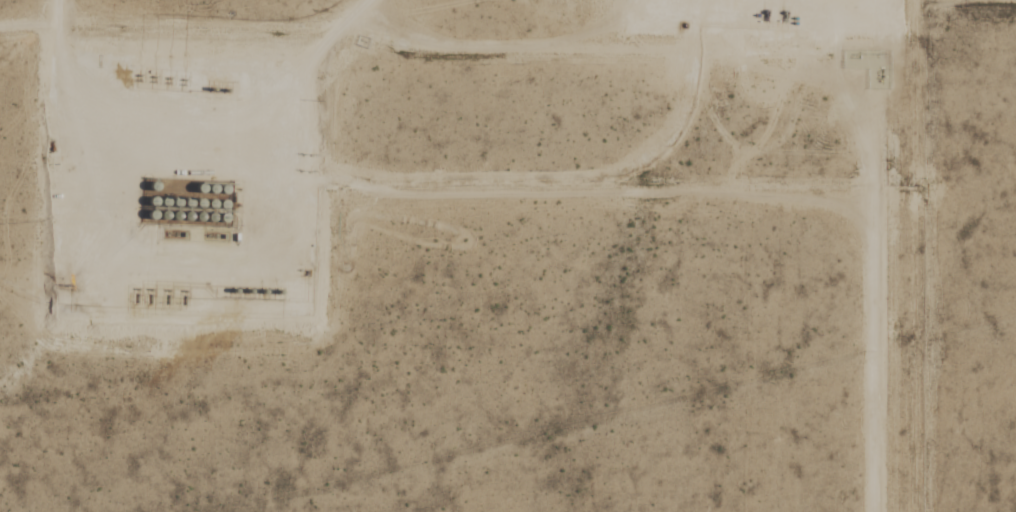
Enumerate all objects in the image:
road: (30, 23)
road: (710, 24)
petroleum well: (137, 71)
petroleum well: (152, 72)
petroleum well: (167, 74)
petroleum well: (182, 75)
petroleum well: (137, 76)
petroleum well: (152, 77)
petroleum well: (167, 79)
petroleum well: (182, 80)
road: (680, 122)
road: (875, 212)
road: (194, 248)
petroleum well: (133, 285)
petroleum well: (147, 286)
petroleum well: (165, 287)
petroleum well: (181, 287)

